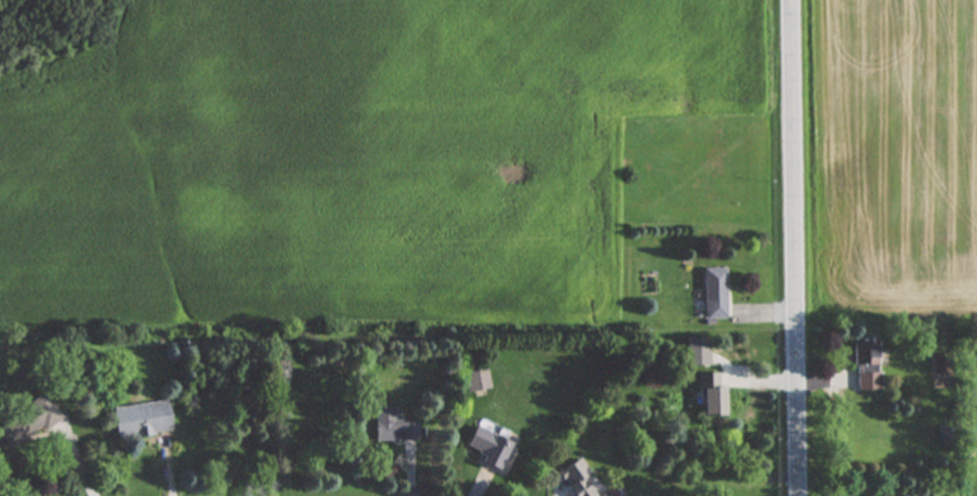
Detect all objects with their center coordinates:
road: (793, 247)
building: (714, 294)
building: (697, 351)
building: (939, 364)
building: (867, 365)
building: (477, 380)
building: (712, 394)
building: (142, 419)
building: (29, 420)
building: (393, 426)
building: (487, 445)
building: (577, 478)
building: (606, 494)

